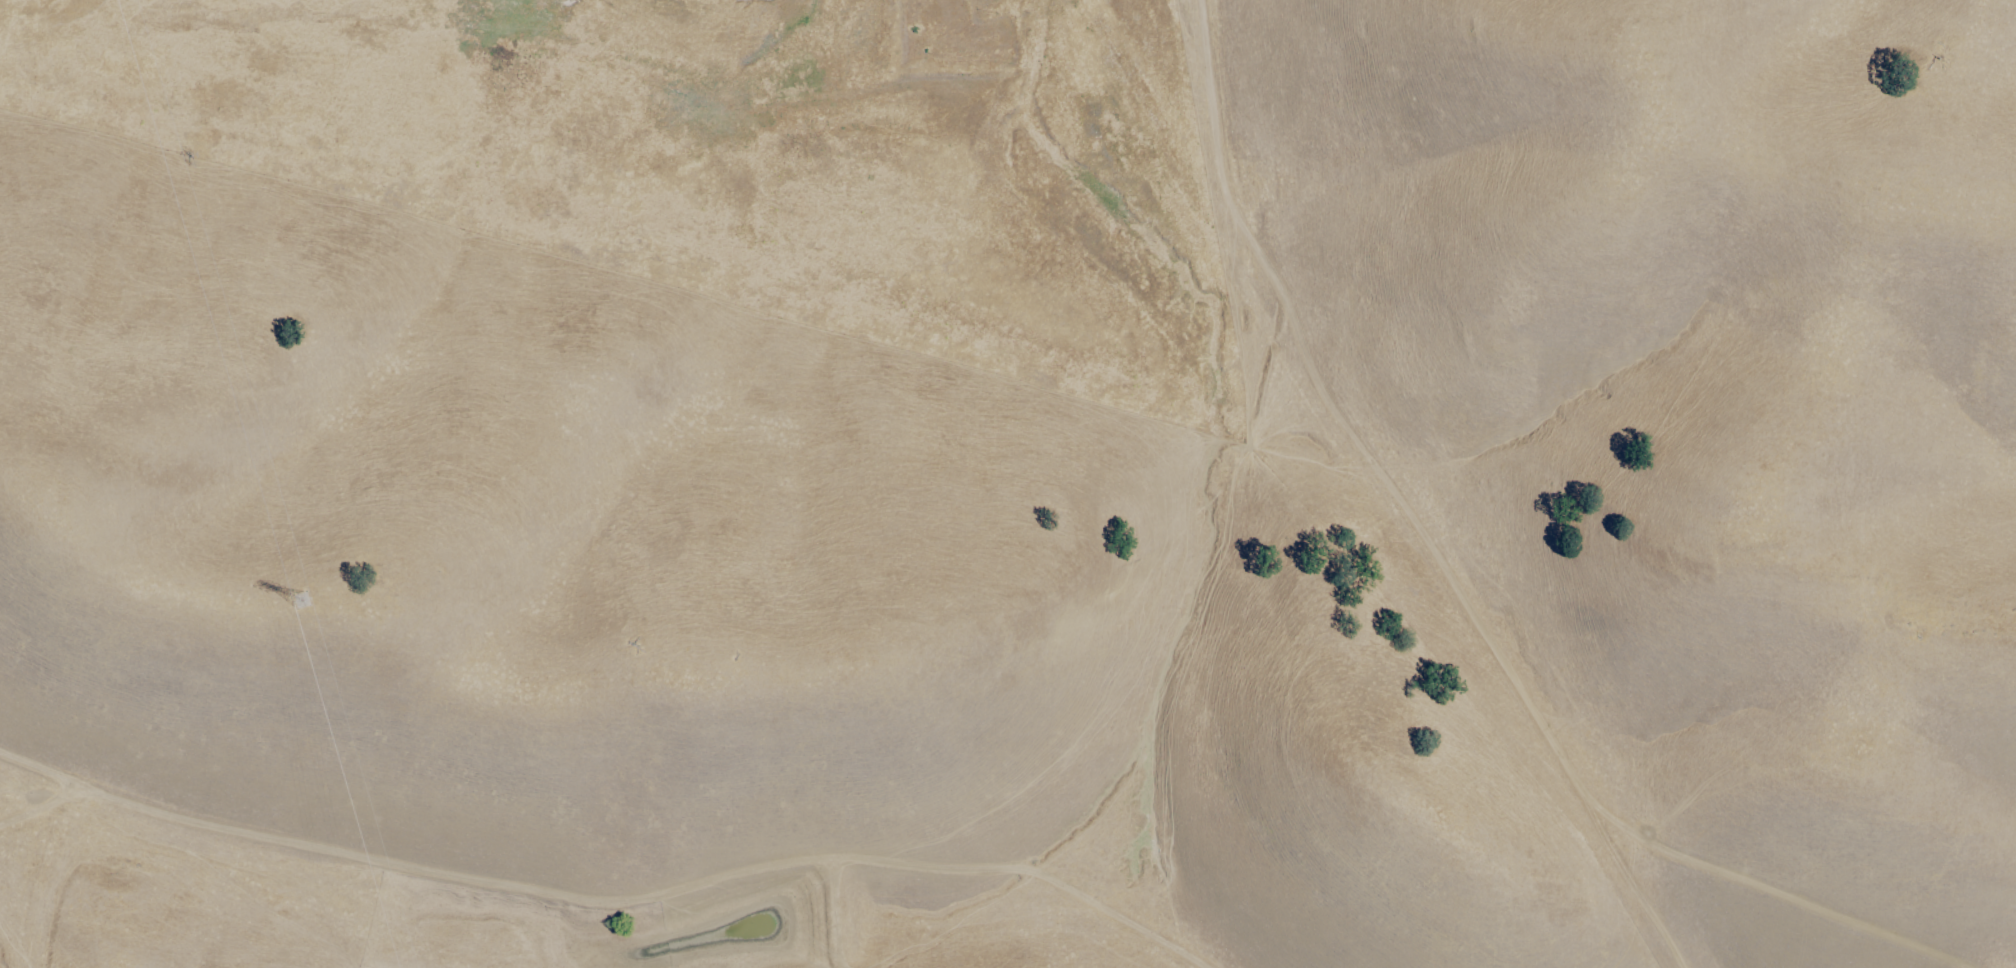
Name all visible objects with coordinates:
power tower: (303, 604)
road: (42, 810)
wastewater plant: (733, 946)

